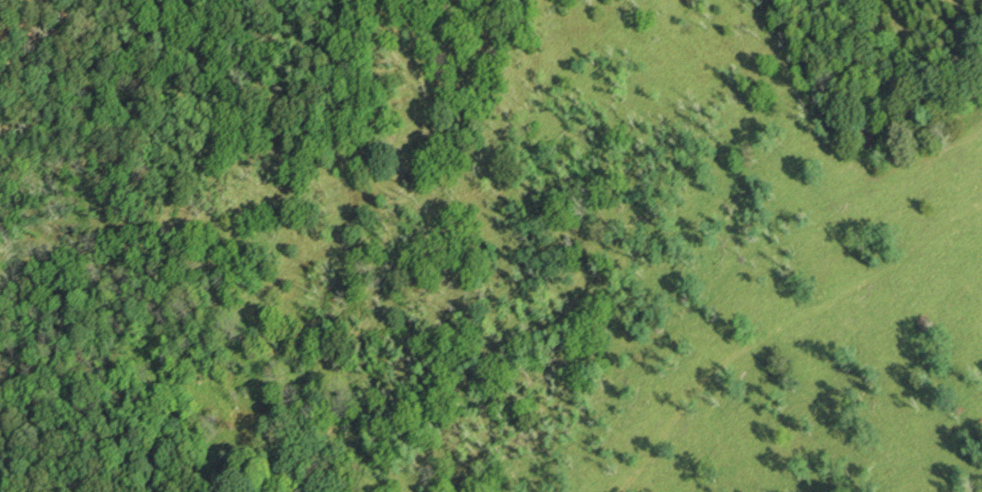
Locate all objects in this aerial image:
road: (784, 329)

